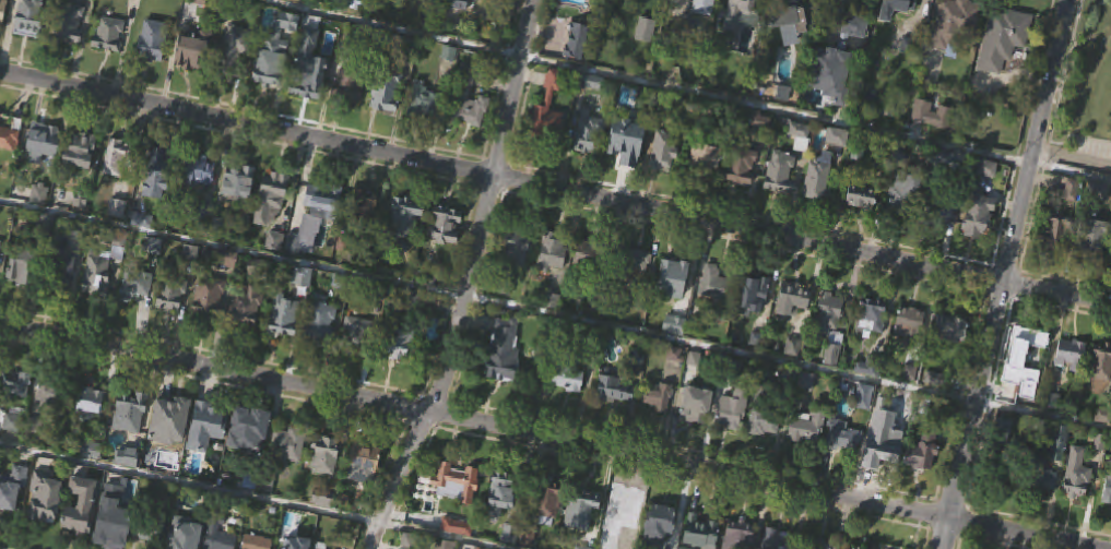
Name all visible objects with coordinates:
building: (581, 5)
building: (28, 7)
building: (750, 7)
building: (705, 8)
building: (899, 8)
building: (2, 11)
building: (356, 12)
road: (839, 12)
building: (28, 22)
building: (69, 22)
building: (792, 22)
building: (859, 25)
building: (957, 25)
building: (461, 29)
building: (743, 32)
building: (896, 33)
building: (108, 35)
building: (3, 37)
building: (1004, 38)
building: (154, 41)
building: (578, 41)
building: (31, 49)
building: (234, 50)
building: (193, 51)
building: (274, 51)
building: (71, 52)
building: (955, 52)
building: (855, 57)
building: (646, 59)
building: (110, 63)
building: (578, 69)
building: (1004, 69)
building: (154, 70)
road: (1066, 71)
building: (836, 75)
building: (308, 76)
building: (235, 79)
building: (196, 81)
building: (450, 83)
building: (273, 87)
building: (348, 88)
building: (388, 92)
road: (686, 93)
building: (470, 102)
building: (834, 102)
building: (308, 103)
building: (424, 103)
building: (548, 110)
building: (592, 111)
building: (350, 117)
building: (388, 122)
building: (784, 123)
building: (470, 128)
building: (424, 130)
building: (590, 133)
building: (10, 135)
road: (1076, 135)
building: (800, 136)
building: (549, 138)
building: (933, 143)
building: (42, 144)
building: (623, 145)
building: (761, 151)
building: (82, 152)
building: (665, 152)
road: (1073, 154)
building: (117, 159)
building: (589, 162)
building: (706, 162)
building: (801, 165)
building: (743, 166)
building: (838, 166)
building: (9, 168)
building: (45, 170)
building: (201, 172)
building: (627, 172)
building: (157, 175)
building: (781, 175)
building: (665, 180)
building: (82, 181)
building: (239, 182)
building: (819, 182)
building: (118, 187)
building: (941, 187)
building: (705, 188)
road: (555, 190)
building: (743, 196)
building: (271, 198)
building: (864, 198)
building: (905, 199)
building: (201, 200)
building: (323, 201)
building: (159, 202)
building: (781, 202)
building: (363, 208)
building: (819, 210)
building: (239, 211)
building: (941, 211)
building: (197, 215)
building: (979, 216)
building: (1074, 220)
building: (905, 224)
building: (40, 225)
building: (402, 225)
building: (446, 226)
building: (862, 226)
building: (272, 228)
building: (323, 230)
building: (1051, 230)
building: (366, 232)
building: (202, 238)
building: (1097, 239)
building: (943, 243)
building: (297, 246)
building: (518, 246)
building: (979, 246)
building: (405, 247)
building: (143, 249)
building: (552, 253)
building: (446, 255)
building: (592, 256)
building: (1053, 259)
building: (1110, 259)
building: (23, 263)
building: (103, 263)
building: (635, 263)
building: (259, 268)
building: (276, 270)
building: (60, 273)
building: (304, 273)
building: (154, 274)
road: (1004, 274)
building: (1, 276)
building: (517, 276)
building: (673, 277)
road: (468, 278)
building: (192, 283)
building: (554, 284)
building: (589, 284)
building: (135, 285)
building: (638, 289)
building: (718, 293)
building: (67, 294)
building: (172, 295)
building: (23, 296)
building: (755, 296)
building: (795, 297)
building: (209, 298)
building: (102, 299)
building: (304, 306)
building: (674, 307)
building: (248, 309)
building: (713, 312)
building: (137, 317)
road: (555, 317)
building: (872, 317)
building: (284, 318)
building: (172, 325)
building: (321, 325)
building: (754, 325)
building: (831, 325)
building: (911, 326)
building: (358, 329)
building: (794, 329)
building: (208, 330)
building: (554, 331)
building: (953, 331)
building: (252, 336)
building: (285, 346)
building: (399, 346)
building: (872, 347)
building: (505, 351)
building: (910, 351)
building: (321, 353)
building: (675, 355)
building: (1068, 356)
building: (952, 359)
building: (358, 361)
building: (1018, 363)
building: (1102, 363)
building: (870, 366)
building: (401, 373)
building: (795, 375)
building: (569, 379)
building: (638, 384)
building: (676, 384)
building: (834, 384)
building: (1072, 384)
building: (16, 385)
building: (1025, 390)
building: (615, 391)
building: (1101, 393)
building: (52, 396)
building: (659, 397)
building: (866, 398)
building: (911, 403)
building: (90, 406)
building: (789, 406)
building: (570, 408)
building: (696, 408)
building: (938, 409)
building: (16, 411)
building: (807, 411)
building: (130, 414)
building: (616, 416)
building: (732, 416)
building: (862, 419)
building: (170, 420)
building: (765, 420)
building: (13, 421)
building: (52, 422)
building: (660, 426)
building: (92, 429)
building: (808, 429)
building: (209, 432)
building: (697, 433)
building: (246, 437)
road: (540, 438)
building: (844, 438)
building: (1061, 438)
building: (734, 439)
building: (132, 442)
building: (288, 446)
building: (170, 447)
building: (884, 447)
building: (90, 451)
building: (765, 451)
building: (925, 451)
building: (209, 454)
building: (326, 455)
building: (808, 456)
building: (1003, 457)
building: (250, 458)
building: (365, 460)
building: (843, 464)
building: (1060, 473)
building: (289, 474)
building: (883, 476)
building: (1079, 476)
building: (92, 479)
building: (1041, 479)
building: (924, 482)
building: (329, 485)
building: (453, 485)
building: (129, 486)
building: (13, 490)
building: (364, 490)
building: (1108, 493)
building: (504, 494)
road: (245, 498)
building: (1078, 499)
building: (45, 500)
building: (547, 505)
building: (82, 509)
building: (1045, 509)
building: (581, 512)
building: (625, 516)
building: (115, 517)
building: (661, 523)
building: (1107, 524)
building: (10, 525)
building: (501, 525)
building: (47, 527)
building: (150, 529)
building: (458, 529)
building: (551, 529)
building: (115, 533)
building: (185, 533)
building: (702, 534)
building: (742, 535)
building: (218, 536)
building: (582, 536)
building: (626, 538)
building: (776, 540)
building: (662, 541)
building: (256, 542)
building: (321, 546)
building: (448, 546)
building: (815, 546)
building: (146, 548)
building: (849, 548)

